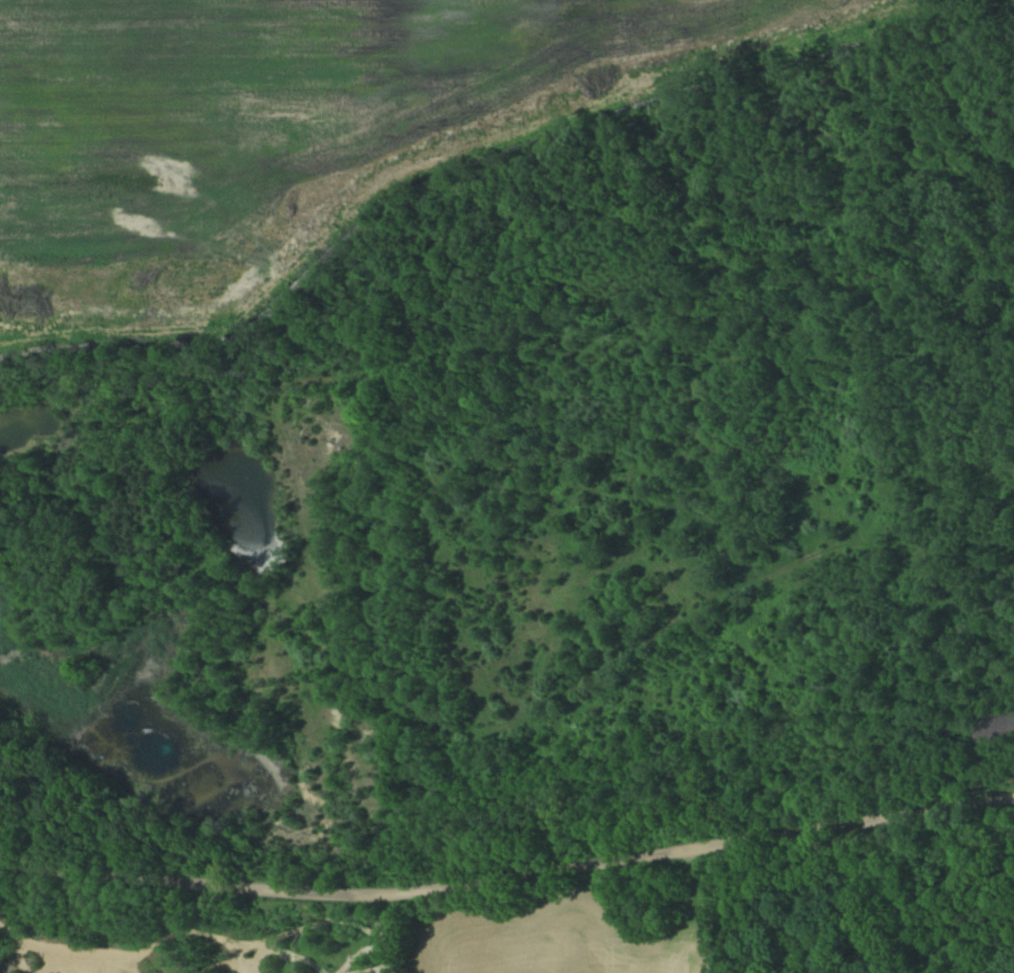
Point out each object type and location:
building: (994, 726)
road: (508, 875)

